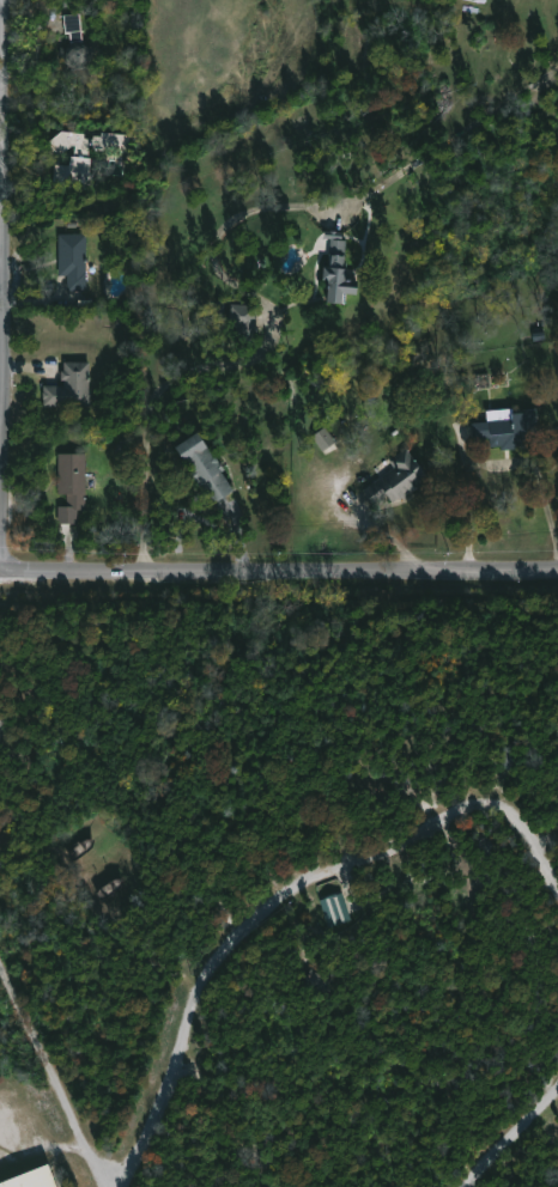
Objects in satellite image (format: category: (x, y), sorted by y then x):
building: (74, 44)
building: (83, 152)
road: (222, 242)
building: (73, 261)
building: (336, 269)
road: (4, 284)
road: (7, 286)
building: (243, 315)
building: (68, 386)
building: (505, 428)
building: (323, 439)
road: (490, 462)
building: (201, 469)
building: (72, 477)
building: (396, 479)
road: (141, 546)
road: (279, 574)
road: (280, 896)
building: (335, 909)
building: (316, 984)
road: (55, 1064)
road: (511, 1137)
building: (30, 1179)

